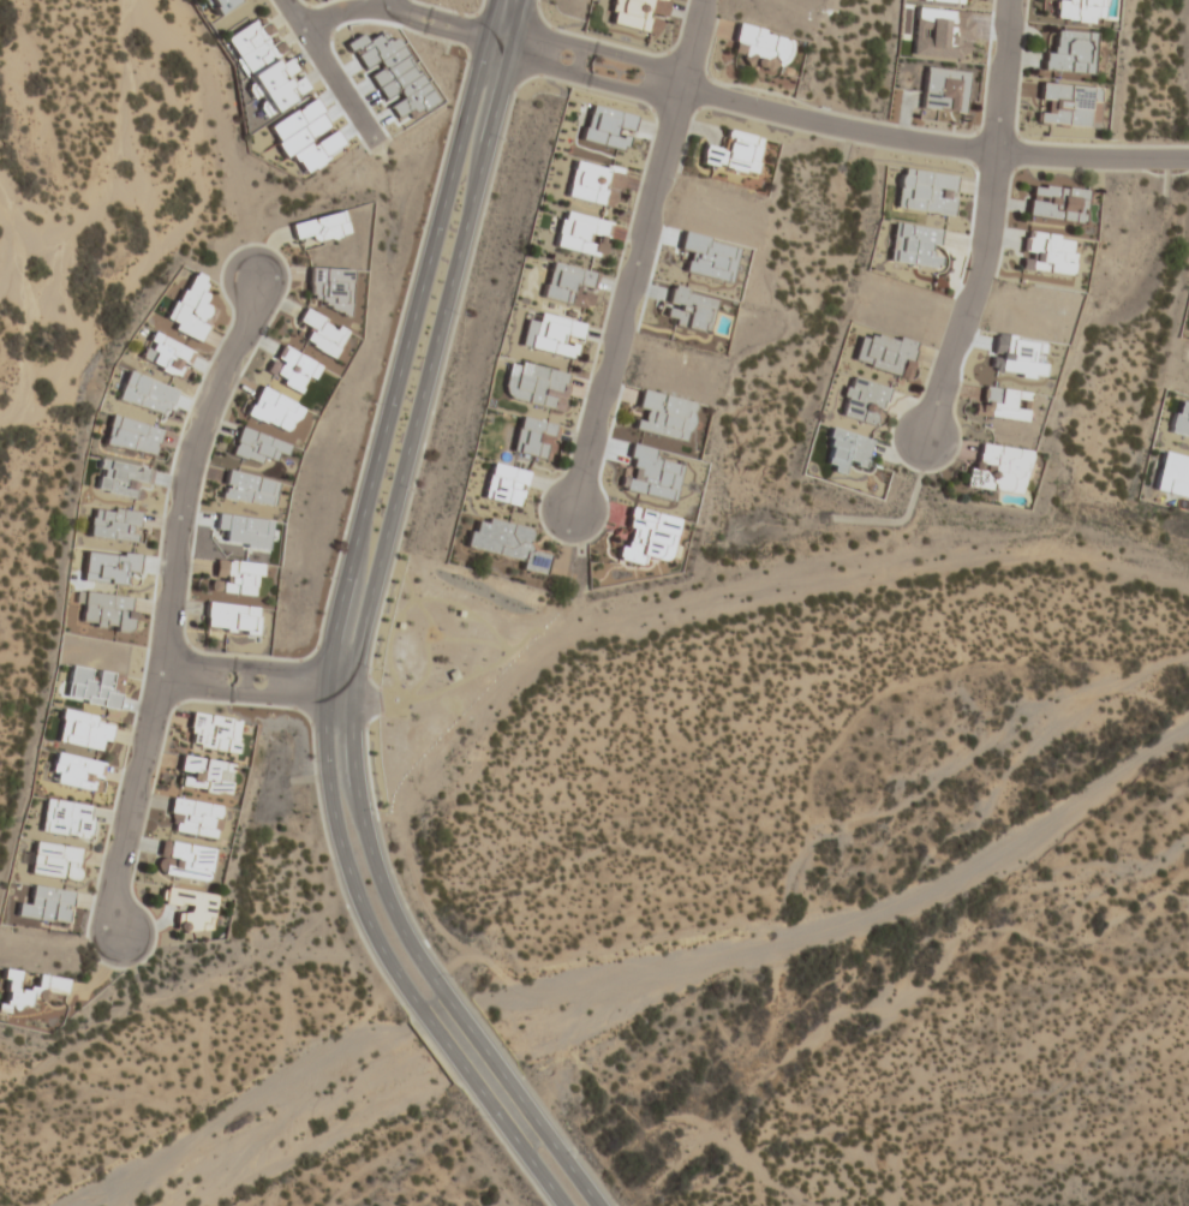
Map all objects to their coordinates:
building: (944, 0)
building: (214, 6)
road: (390, 6)
building: (1079, 11)
road: (396, 14)
building: (637, 14)
building: (759, 49)
building: (1070, 53)
building: (264, 66)
road: (334, 77)
building: (944, 90)
building: (1066, 105)
road: (832, 126)
building: (605, 129)
building: (733, 155)
building: (591, 184)
building: (1056, 203)
road: (986, 223)
building: (318, 228)
building: (580, 234)
building: (914, 245)
road: (637, 255)
building: (568, 286)
building: (330, 288)
building: (321, 334)
building: (555, 335)
building: (163, 354)
building: (884, 354)
building: (861, 401)
building: (1000, 404)
building: (273, 411)
building: (532, 438)
building: (256, 447)
building: (844, 450)
building: (998, 470)
building: (1173, 477)
building: (503, 485)
building: (247, 489)
road: (398, 497)
road: (364, 505)
building: (112, 524)
building: (647, 537)
building: (504, 544)
building: (235, 578)
road: (172, 608)
building: (106, 611)
building: (231, 617)
road: (259, 683)
building: (83, 730)
building: (211, 733)
building: (203, 775)
building: (65, 818)
building: (192, 818)
building: (54, 861)
building: (183, 861)
building: (190, 909)
building: (26, 991)
road: (472, 1027)
road: (444, 1040)
road: (551, 1136)
road: (516, 1144)

